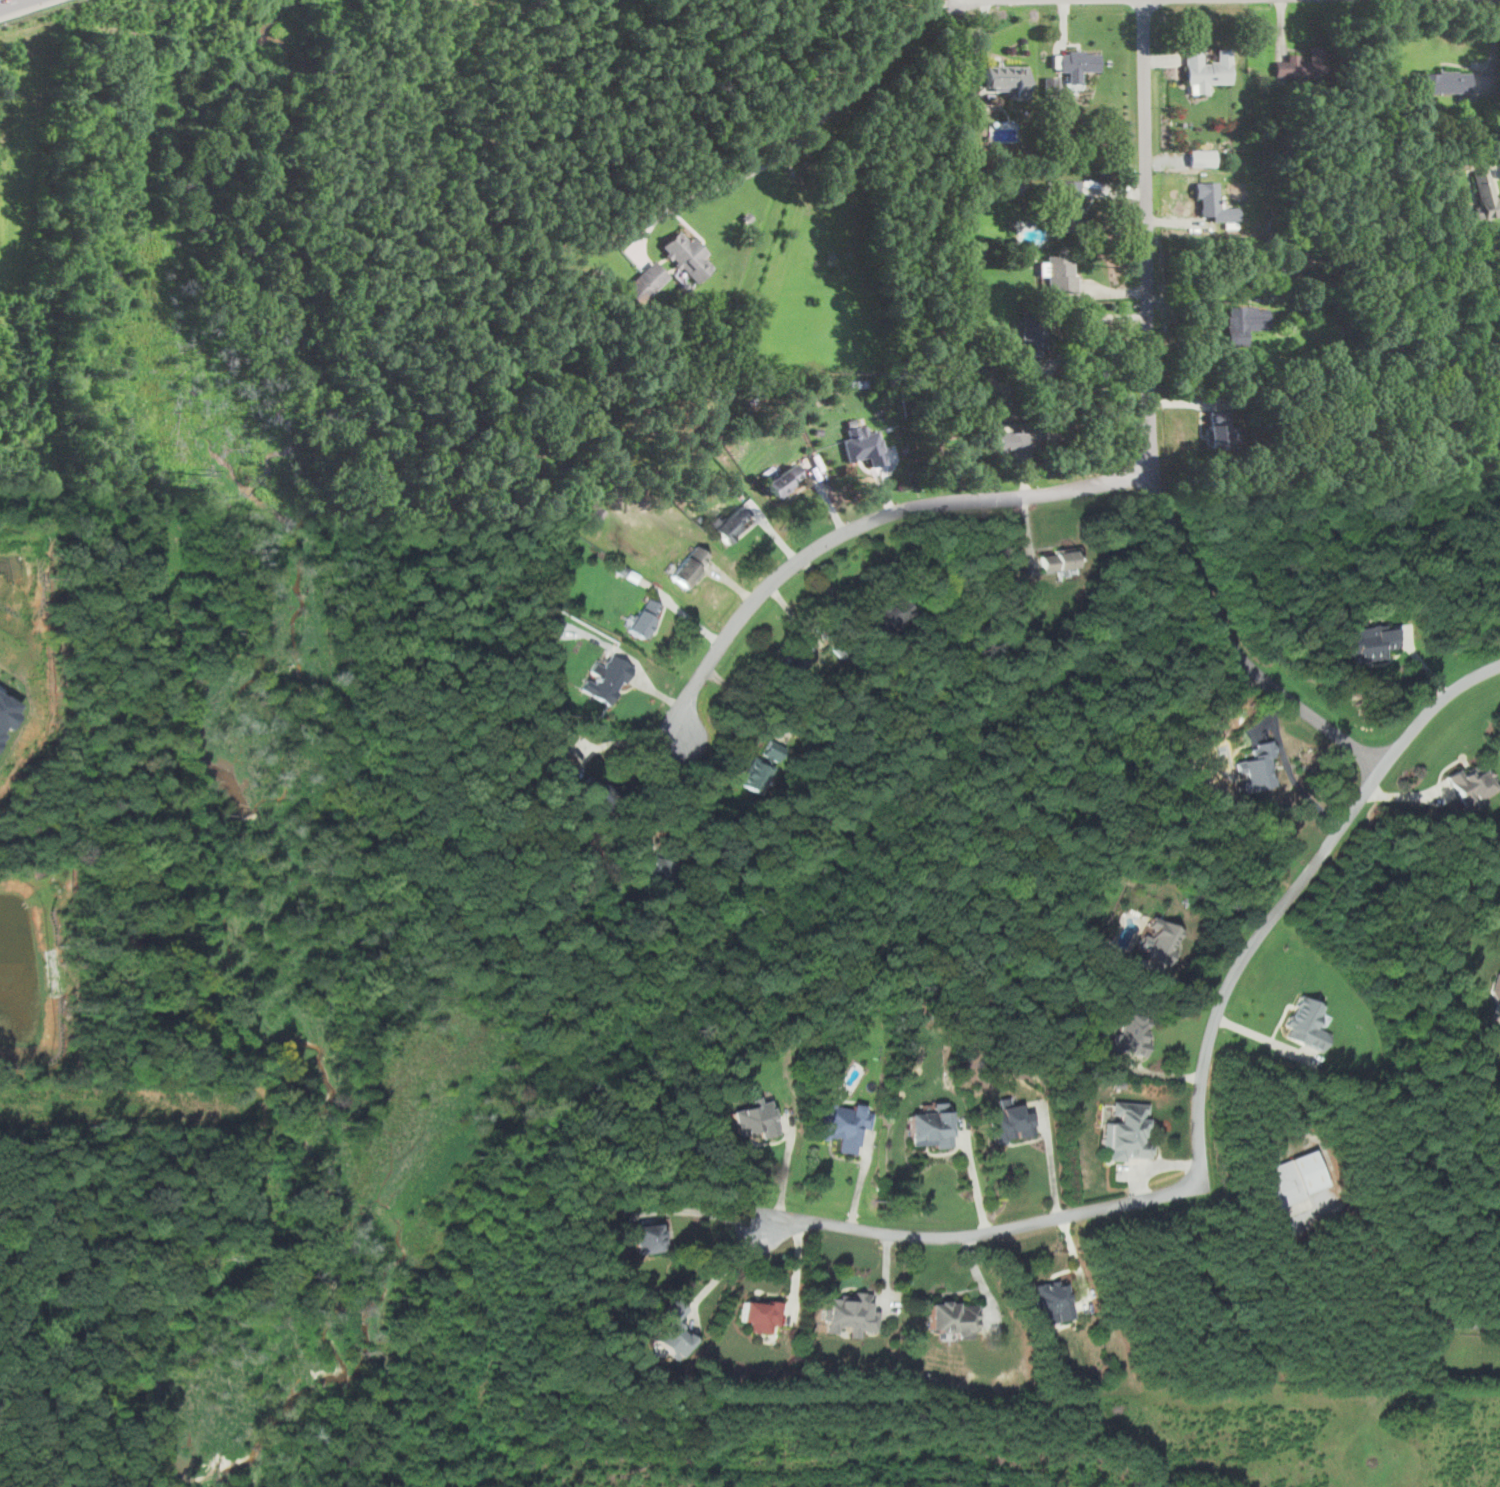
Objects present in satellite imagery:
road: (11, 3)
road: (24, 7)
building: (1075, 63)
building: (1302, 63)
building: (1206, 69)
building: (1008, 78)
building: (1446, 80)
building: (1051, 83)
road: (822, 120)
building: (1003, 130)
building: (1203, 156)
building: (1485, 193)
building: (1070, 202)
building: (1213, 202)
building: (980, 248)
building: (687, 255)
building: (1060, 271)
building: (646, 281)
building: (1246, 321)
road: (1087, 322)
building: (1034, 335)
building: (1218, 427)
road: (1149, 429)
building: (1010, 439)
building: (864, 445)
building: (784, 479)
building: (597, 510)
road: (864, 522)
building: (731, 524)
building: (1060, 562)
building: (689, 567)
building: (890, 617)
building: (644, 619)
building: (553, 623)
building: (1367, 642)
building: (794, 659)
building: (609, 681)
building: (4, 713)
building: (772, 753)
building: (1257, 766)
building: (756, 775)
building: (1473, 782)
building: (597, 788)
road: (671, 794)
building: (653, 864)
road: (1290, 894)
building: (1162, 942)
building: (1496, 990)
building: (1305, 1024)
building: (1132, 1033)
road: (1263, 1038)
building: (754, 1119)
building: (1010, 1123)
building: (843, 1124)
building: (931, 1127)
building: (1127, 1133)
road: (1052, 1163)
road: (786, 1172)
building: (1293, 1178)
road: (862, 1180)
road: (975, 1181)
road: (709, 1213)
road: (983, 1232)
building: (646, 1237)
road: (726, 1271)
road: (796, 1271)
road: (982, 1280)
building: (1054, 1300)
building: (761, 1315)
building: (849, 1315)
building: (954, 1318)
building: (673, 1332)

